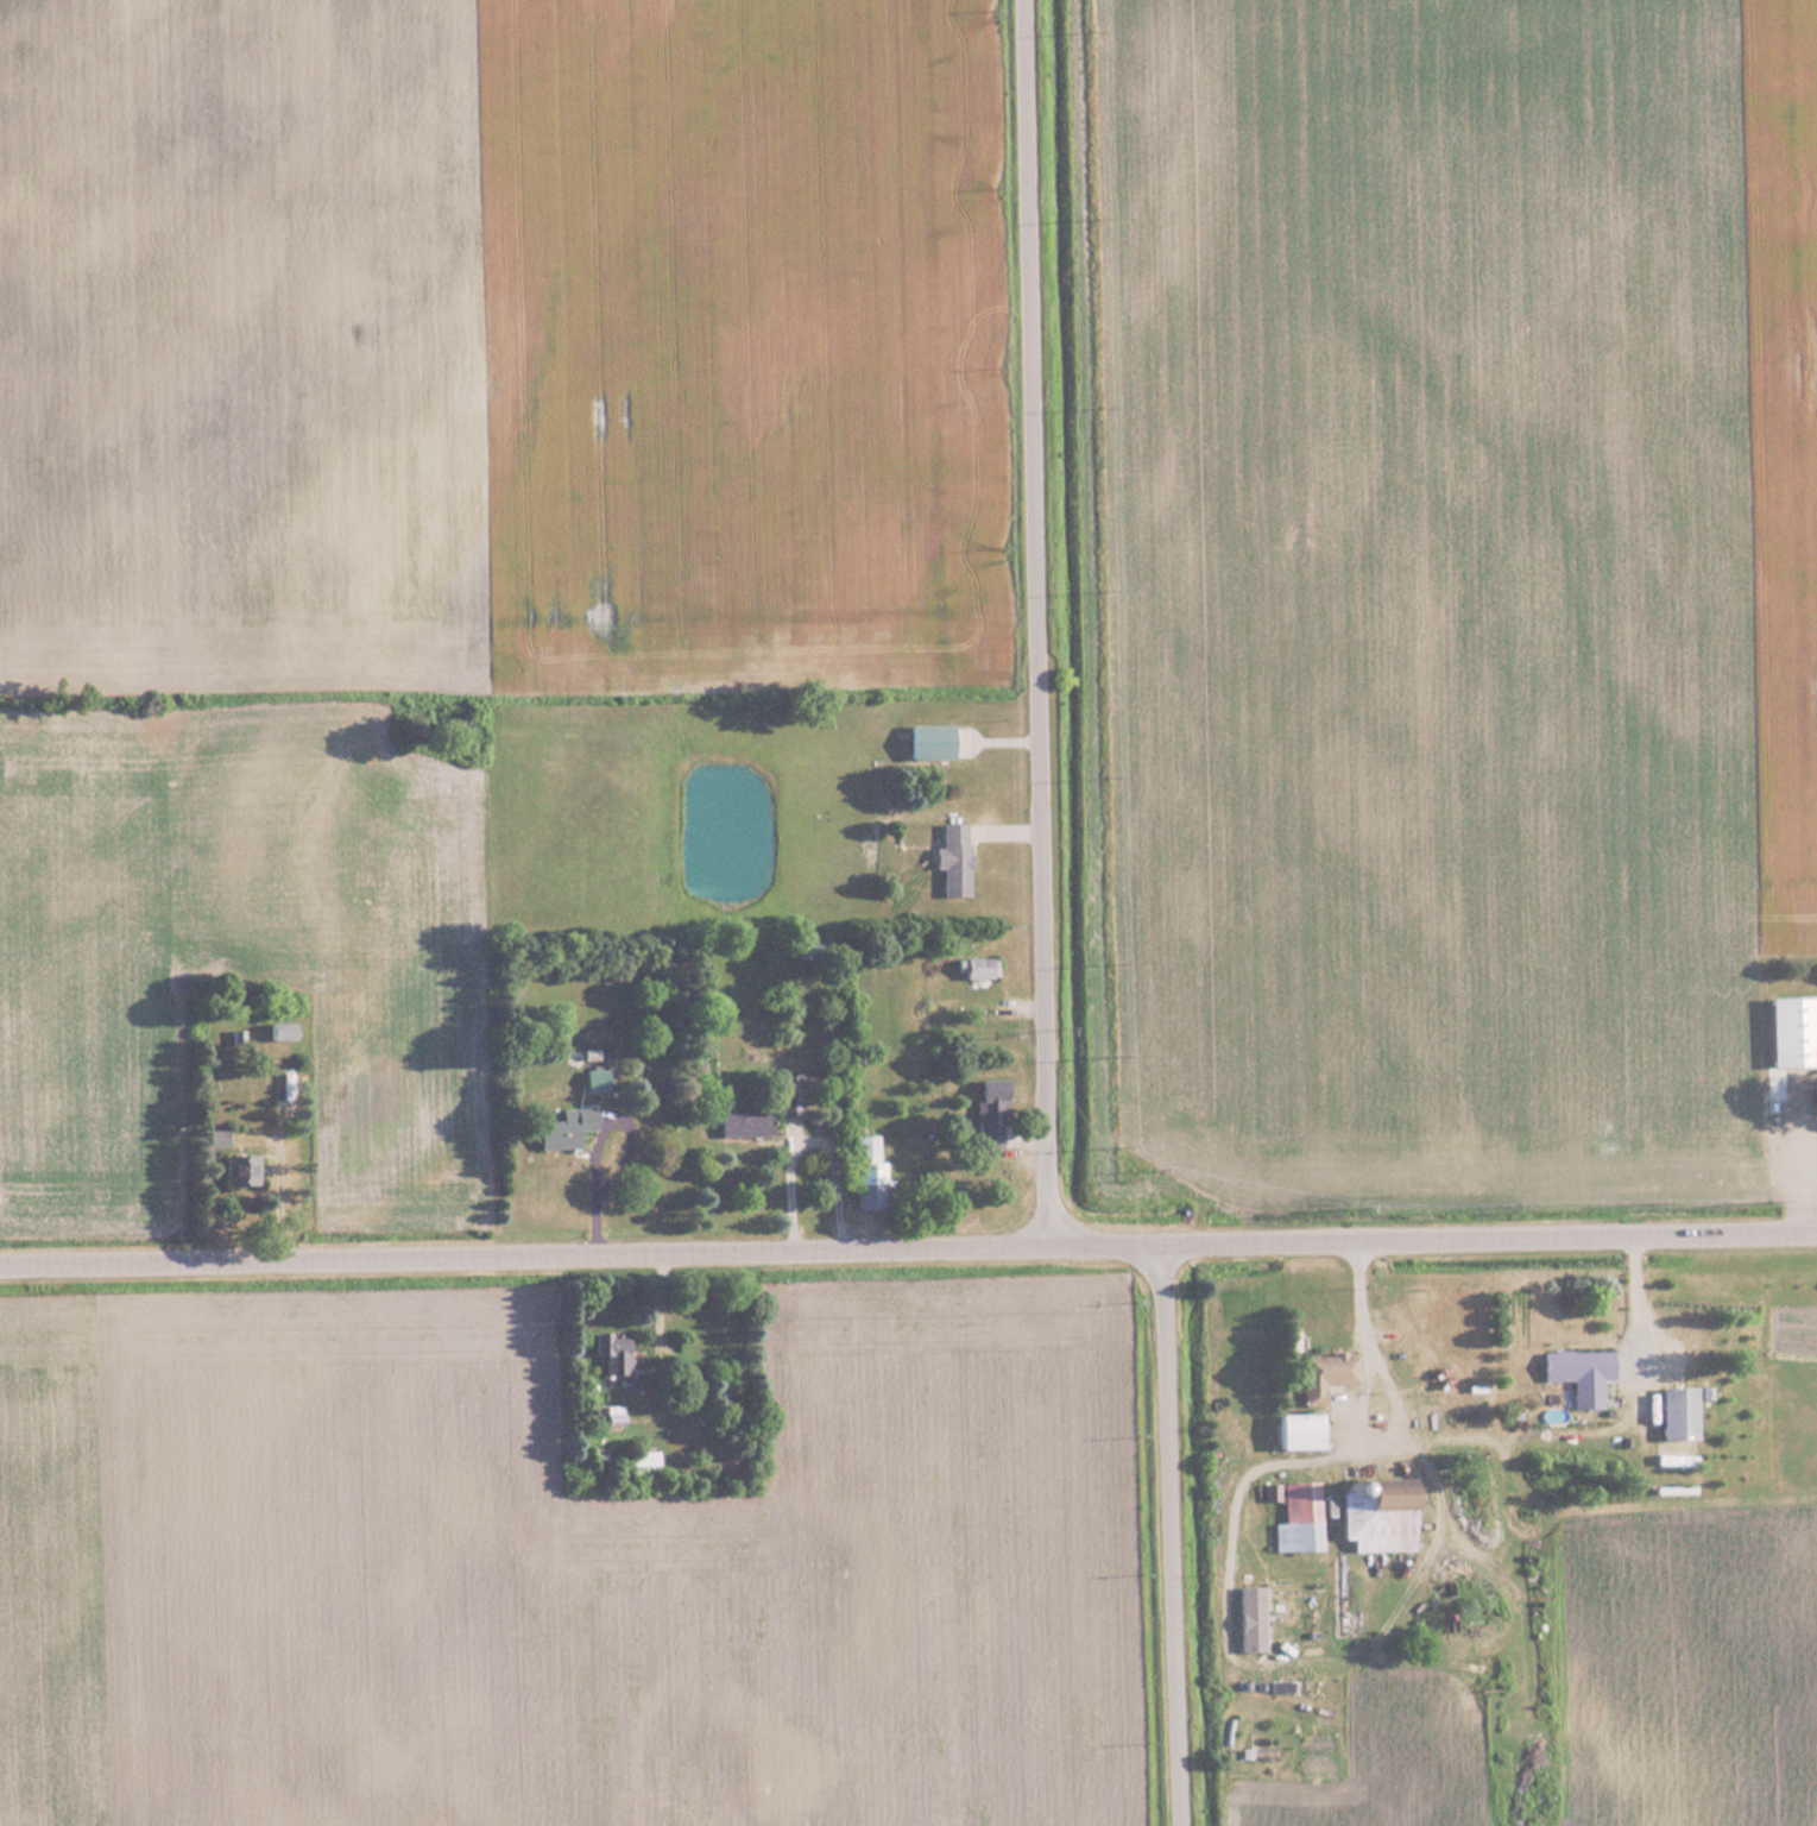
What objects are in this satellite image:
road: (1037, 623)
building: (927, 742)
building: (949, 858)
building: (972, 968)
building: (1788, 1032)
building: (594, 1081)
building: (285, 1082)
building: (788, 1094)
building: (985, 1107)
building: (742, 1121)
building: (563, 1127)
building: (214, 1139)
road: (1802, 1154)
building: (239, 1171)
building: (865, 1171)
road: (908, 1248)
road: (1633, 1314)
building: (610, 1352)
building: (1576, 1372)
building: (1323, 1374)
building: (1673, 1412)
building: (1293, 1431)
road: (1355, 1436)
building: (1292, 1515)
building: (1370, 1515)
road: (1168, 1535)

